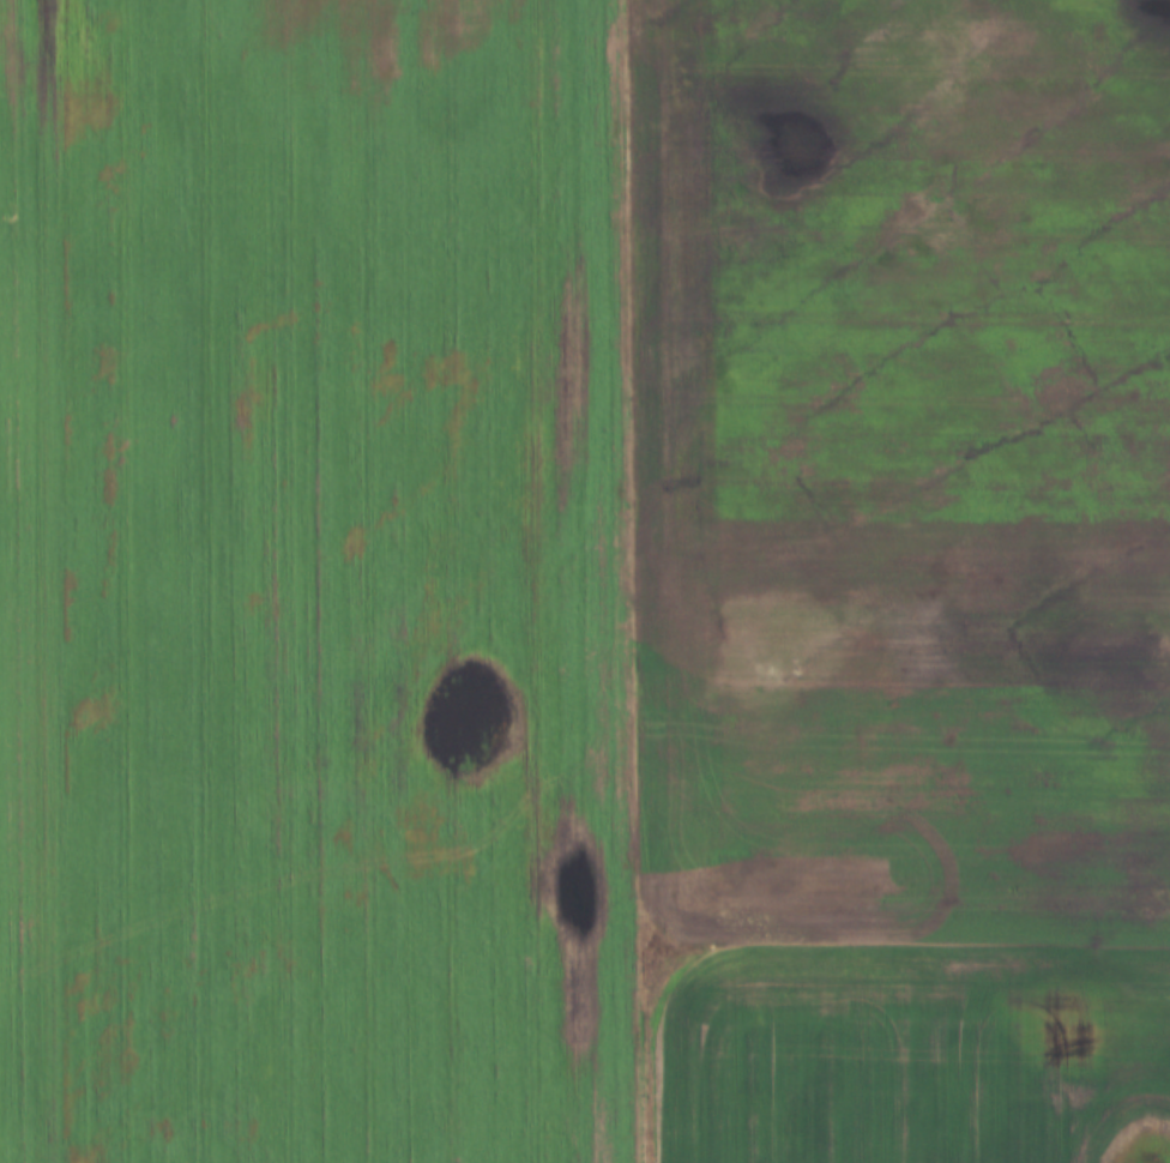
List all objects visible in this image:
road: (634, 581)

